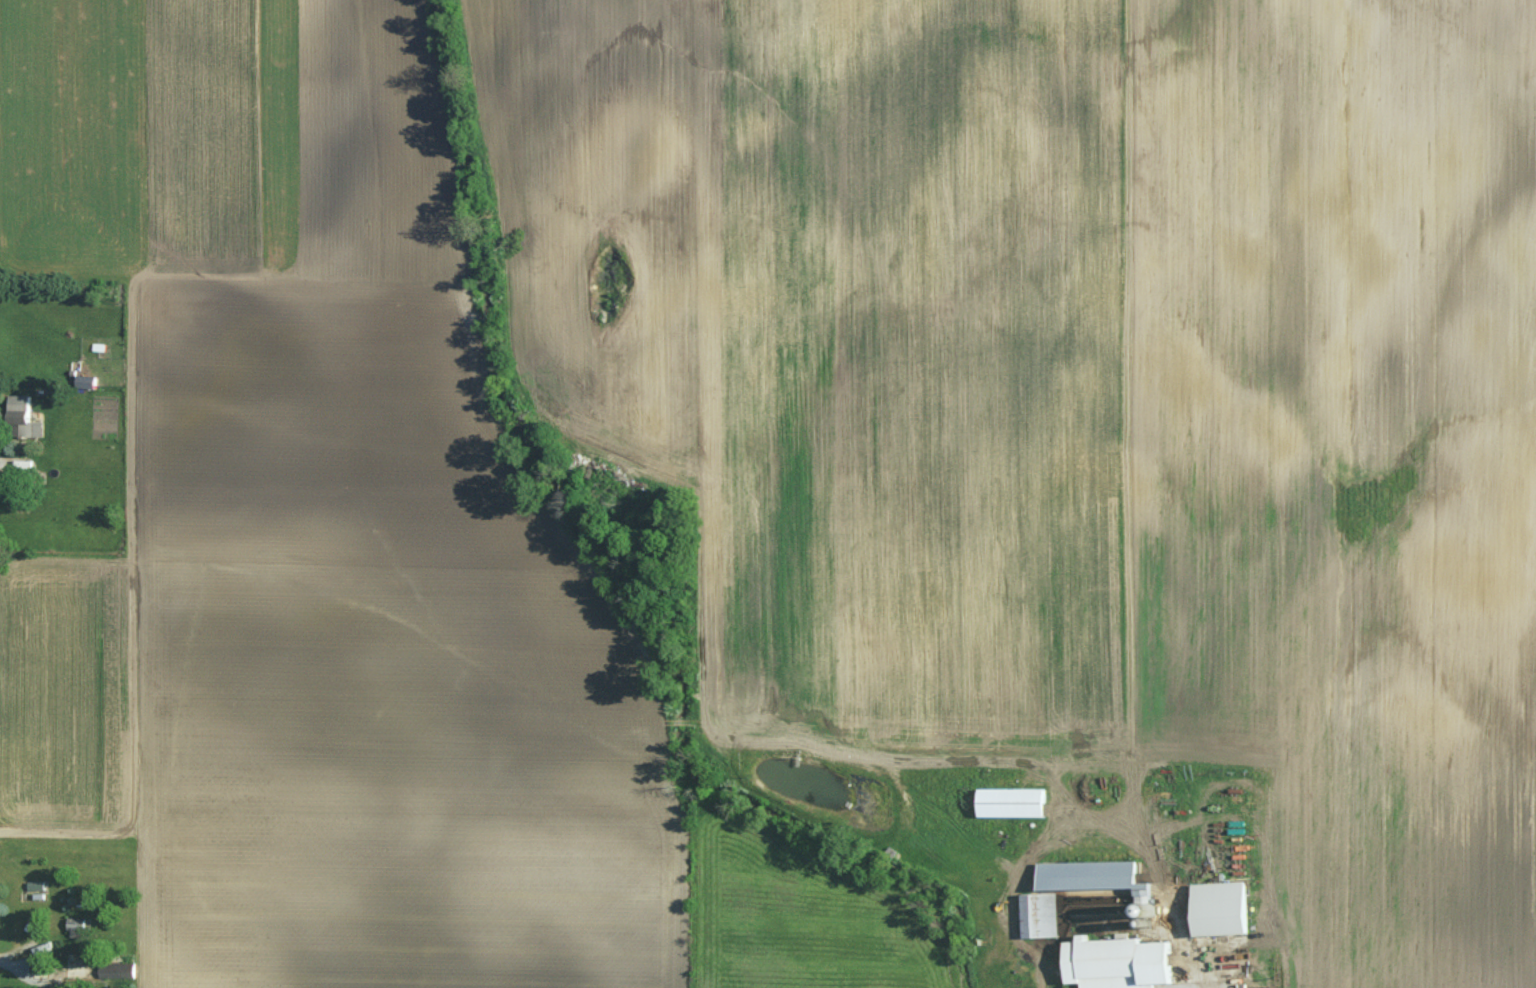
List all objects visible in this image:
building: (25, 409)
building: (1096, 865)
building: (1035, 914)
building: (81, 927)
building: (1113, 962)
road: (1188, 981)

